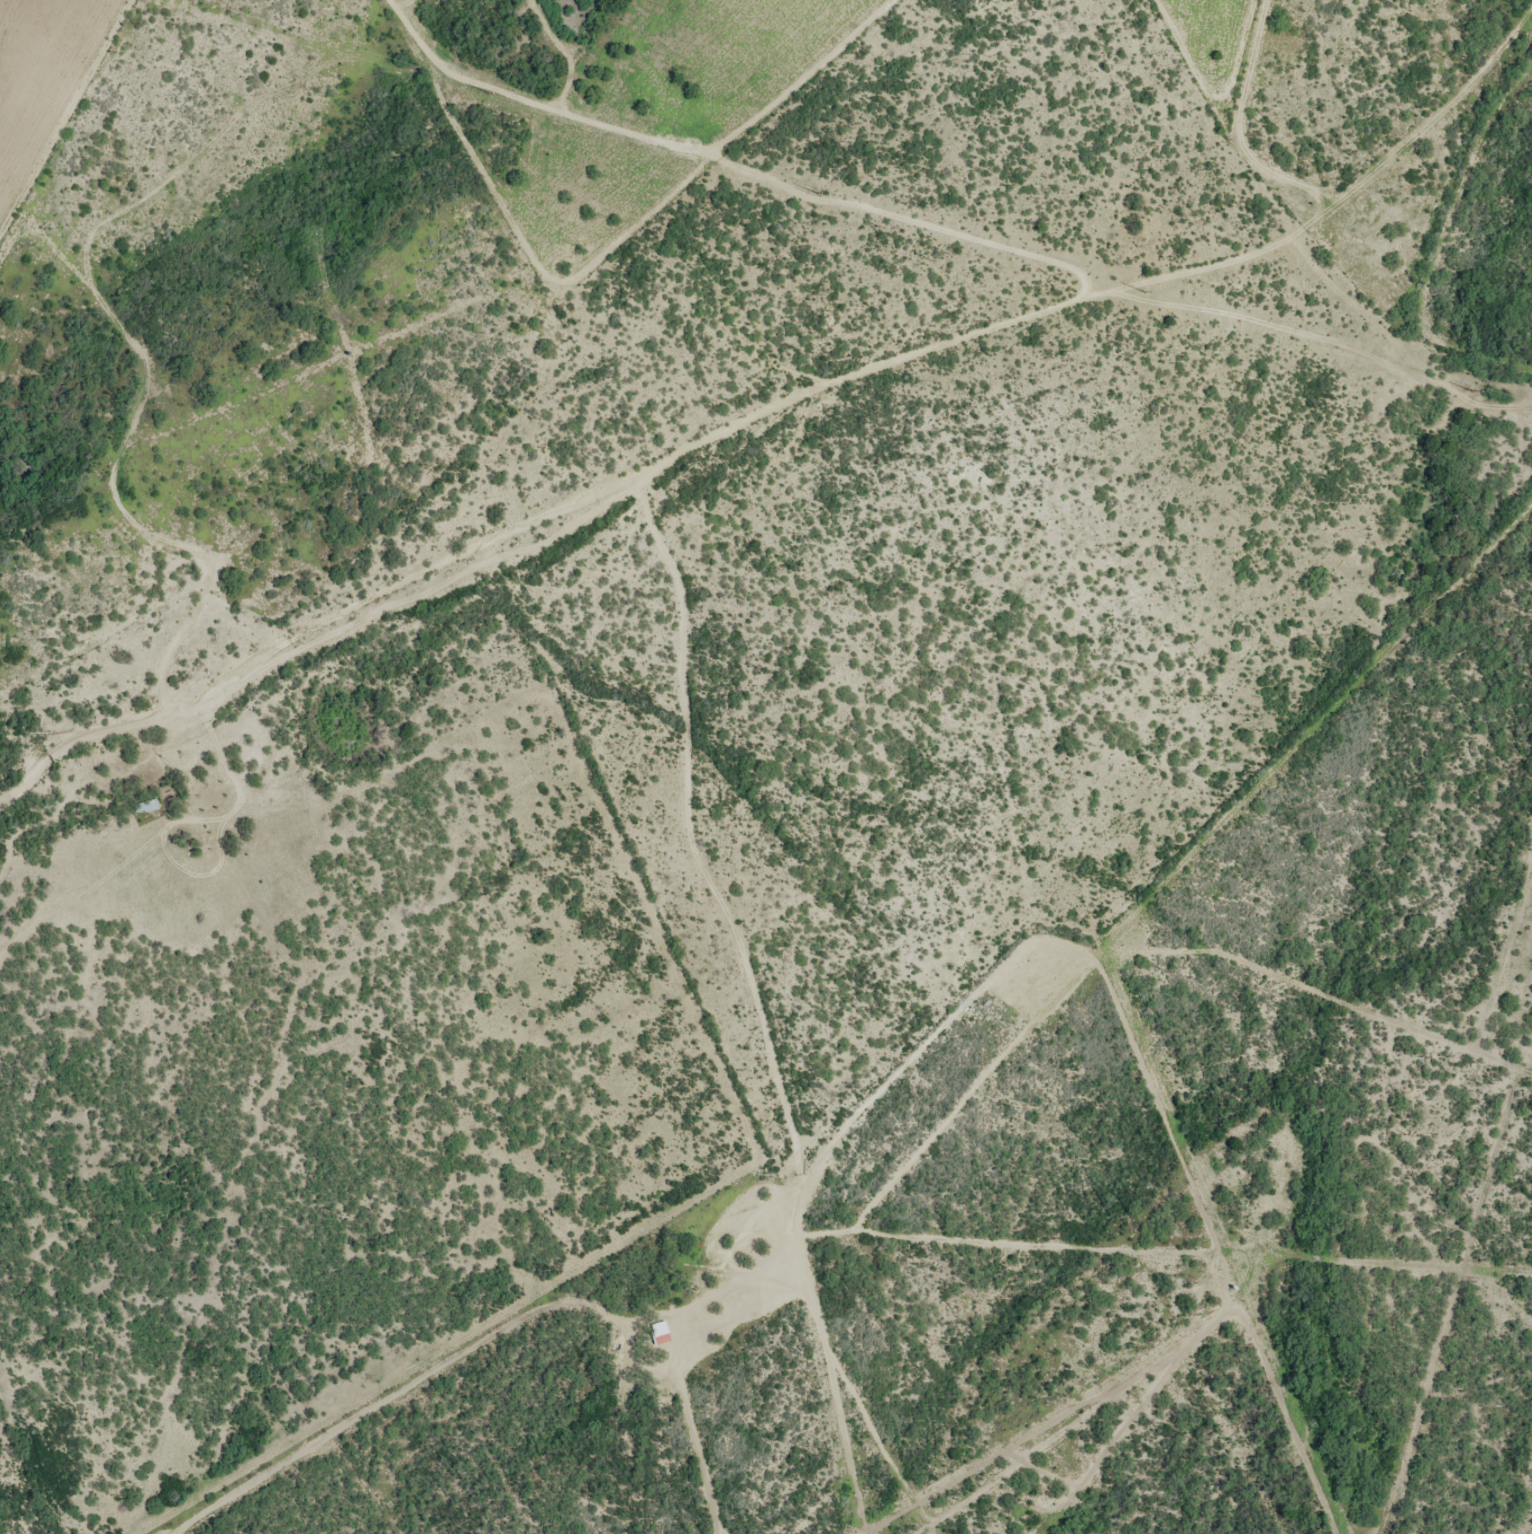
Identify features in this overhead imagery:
power tower: (489, 91)
power tower: (818, 190)
power tower: (1144, 290)
power tower: (1473, 388)
road: (783, 445)
road: (751, 866)

